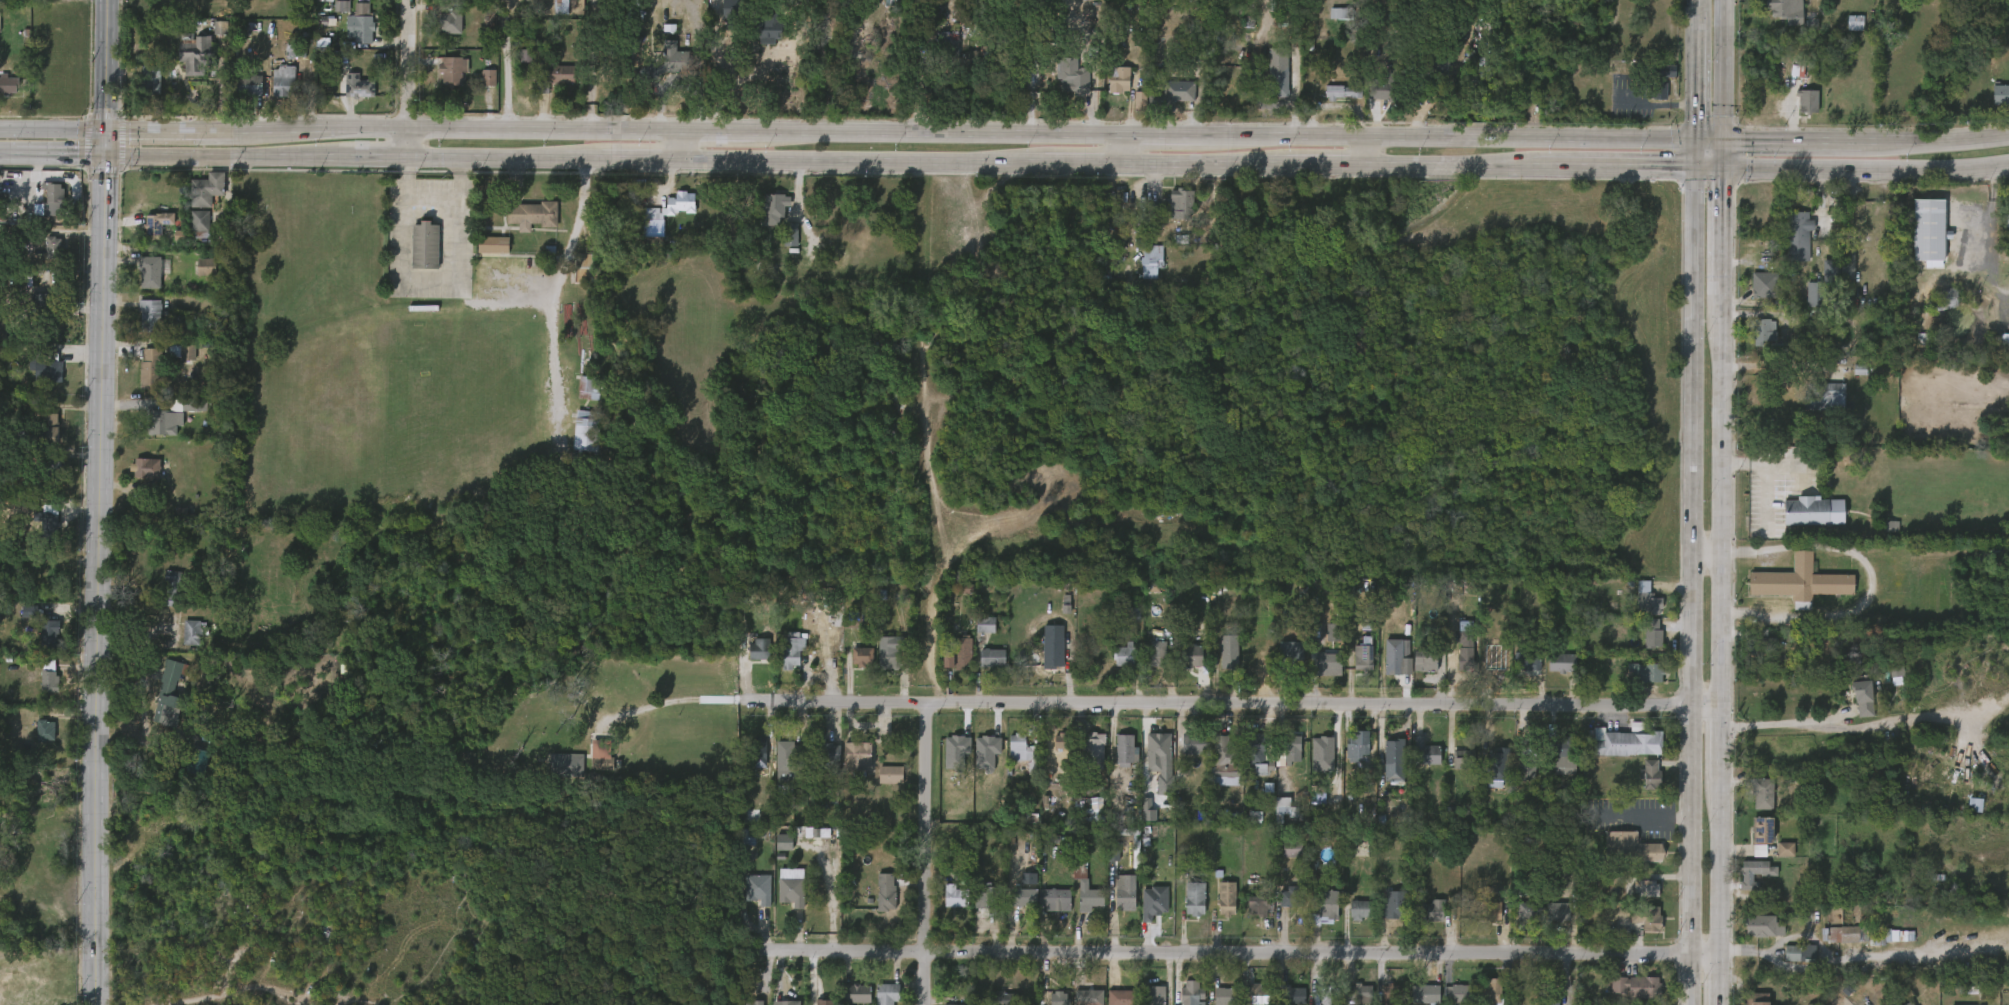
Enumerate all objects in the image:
building: (440, 0)
building: (552, 1)
building: (352, 3)
building: (197, 4)
road: (1696, 6)
building: (1785, 10)
building: (331, 19)
building: (757, 19)
building: (720, 20)
building: (359, 21)
building: (1774, 21)
building: (450, 22)
building: (1327, 26)
building: (1843, 35)
building: (439, 36)
building: (350, 37)
building: (759, 43)
building: (951, 49)
building: (937, 51)
building: (194, 55)
building: (676, 59)
building: (983, 59)
building: (1434, 61)
building: (281, 63)
road: (103, 65)
building: (451, 69)
building: (962, 69)
road: (1729, 71)
building: (664, 74)
building: (555, 75)
road: (1698, 77)
building: (149, 79)
road: (406, 79)
building: (1116, 80)
building: (1275, 81)
building: (1659, 81)
building: (1075, 82)
building: (267, 83)
building: (442, 83)
building: (9, 86)
building: (1382, 86)
building: (357, 87)
building: (477, 90)
building: (1342, 91)
building: (1063, 92)
building: (1108, 92)
building: (140, 93)
building: (1169, 97)
building: (1999, 97)
building: (3, 98)
building: (239, 98)
building: (348, 99)
building: (1806, 101)
building: (1371, 102)
building: (1647, 103)
building: (1332, 105)
building: (1992, 108)
building: (1128, 113)
building: (1796, 114)
road: (51, 129)
traffic signals: (102, 130)
road: (166, 130)
road: (453, 130)
road: (710, 132)
road: (933, 132)
road: (1157, 135)
road: (1446, 138)
traffic signals: (1700, 143)
road: (1714, 143)
traffic signals: (1729, 143)
road: (1800, 144)
road: (102, 145)
road: (1940, 146)
road: (677, 151)
road: (1122, 154)
road: (1362, 156)
road: (51, 159)
road: (222, 159)
road: (373, 159)
traffic signals: (102, 160)
road: (1699, 160)
road: (1729, 160)
road: (495, 162)
road: (632, 168)
road: (855, 171)
road: (1077, 173)
road: (1197, 174)
road: (1317, 175)
road: (1441, 175)
road: (1610, 177)
traffic signals: (1699, 178)
road: (1714, 178)
traffic signals: (1729, 178)
road: (1869, 178)
building: (208, 188)
building: (51, 193)
road: (429, 199)
building: (196, 202)
building: (680, 202)
building: (1176, 203)
building: (773, 206)
building: (41, 213)
building: (535, 214)
building: (1167, 217)
building: (764, 220)
building: (2007, 221)
building: (158, 222)
building: (201, 223)
building: (521, 228)
building: (1930, 230)
building: (651, 233)
building: (147, 235)
building: (1795, 235)
building: (190, 237)
road: (1728, 237)
building: (1917, 244)
building: (423, 245)
building: (51, 247)
building: (780, 247)
building: (482, 257)
building: (414, 258)
building: (1154, 260)
building: (42, 261)
building: (208, 266)
building: (766, 267)
building: (153, 270)
building: (1140, 274)
building: (196, 279)
road: (429, 279)
building: (578, 279)
building: (141, 284)
building: (1763, 284)
building: (1814, 294)
building: (1752, 297)
building: (1946, 298)
road: (554, 301)
building: (41, 304)
building: (1936, 310)
building: (151, 314)
building: (139, 324)
building: (1759, 328)
building: (2005, 340)
building: (1752, 344)
building: (183, 352)
building: (1999, 352)
building: (177, 365)
building: (46, 366)
building: (152, 368)
building: (140, 380)
building: (37, 384)
building: (586, 387)
building: (1823, 396)
building: (578, 400)
building: (187, 404)
building: (1813, 410)
building: (183, 418)
building: (163, 422)
building: (47, 428)
building: (159, 435)
building: (586, 435)
building: (40, 440)
building: (52, 465)
building: (147, 467)
building: (135, 481)
road: (1724, 504)
building: (1804, 511)
building: (50, 521)
building: (40, 530)
building: (1879, 539)
road: (1707, 552)
building: (50, 574)
road: (96, 582)
building: (1798, 582)
building: (175, 589)
road: (1689, 591)
building: (1788, 595)
building: (1644, 599)
building: (160, 601)
building: (1635, 612)
building: (18, 624)
building: (193, 632)
building: (1653, 632)
building: (49, 634)
building: (974, 637)
building: (1760, 643)
building: (38, 645)
building: (181, 645)
building: (1641, 646)
building: (793, 648)
building: (758, 649)
building: (889, 650)
building: (1229, 651)
building: (963, 652)
building: (1055, 652)
building: (1155, 653)
building: (1124, 654)
building: (1290, 654)
building: (1190, 655)
building: (1398, 655)
building: (862, 656)
building: (1465, 656)
building: (991, 657)
building: (1363, 657)
building: (747, 659)
building: (782, 661)
building: (1425, 661)
building: (1525, 661)
building: (1328, 663)
building: (1454, 663)
building: (1561, 663)
building: (1217, 664)
building: (1279, 664)
building: (879, 665)
building: (1042, 665)
building: (1147, 666)
building: (1384, 667)
building: (1112, 668)
building: (1183, 668)
building: (851, 669)
building: (1352, 669)
building: (981, 670)
building: (1515, 673)
building: (1639, 673)
building: (1414, 674)
building: (1550, 675)
building: (50, 677)
building: (1317, 677)
building: (1635, 685)
building: (1885, 687)
building: (39, 689)
building: (167, 696)
building: (1865, 697)
road: (1193, 704)
building: (1851, 711)
road: (1806, 725)
building: (45, 731)
building: (34, 743)
building: (1193, 743)
building: (1356, 743)
building: (1625, 743)
building: (1158, 744)
building: (1091, 748)
building: (1290, 748)
building: (1024, 749)
building: (1125, 750)
building: (1527, 750)
building: (754, 751)
building: (1394, 751)
road: (1721, 751)
building: (825, 752)
building: (1424, 752)
building: (1562, 752)
building: (1050, 753)
building: (1226, 753)
building: (601, 754)
building: (1258, 754)
building: (1616, 754)
building: (857, 757)
building: (789, 758)
building: (1345, 758)
building: (1186, 759)
building: (1462, 759)
building: (1083, 761)
building: (1146, 762)
building: (1281, 762)
building: (1115, 763)
building: (1011, 764)
building: (749, 765)
building: (819, 765)
building: (1414, 765)
building: (565, 766)
building: (1311, 766)
building: (590, 767)
building: (1245, 767)
building: (846, 768)
building: (1496, 768)
building: (1551, 769)
building: (777, 770)
building: (1213, 772)
building: (1383, 772)
building: (1452, 772)
building: (1650, 773)
building: (889, 774)
building: (556, 777)
building: (1486, 781)
building: (1515, 782)
building: (879, 787)
building: (1639, 787)
building: (1763, 792)
building: (953, 795)
building: (1751, 806)
building: (1963, 817)
building: (1275, 821)
building: (1136, 822)
building: (1764, 829)
building: (1750, 842)
building: (1627, 848)
building: (773, 854)
road: (926, 854)
building: (1618, 859)
building: (1773, 861)
building: (1281, 862)
road: (1720, 872)
building: (1756, 873)
building: (1743, 885)
building: (1645, 888)
building: (757, 889)
building: (792, 890)
building: (886, 891)
building: (1128, 892)
building: (985, 894)
building: (954, 897)
building: (1290, 897)
building: (1023, 898)
building: (1090, 898)
building: (780, 899)
building: (1056, 899)
building: (1191, 899)
building: (1224, 899)
building: (1634, 900)
building: (748, 901)
building: (1151, 903)
building: (875, 904)
building: (1258, 904)
building: (1320, 907)
building: (974, 908)
building: (1277, 908)
building: (944, 909)
building: (1114, 909)
building: (1390, 909)
building: (1017, 910)
building: (1215, 910)
building: (1357, 910)
building: (1427, 911)
building: (1042, 912)
building: (1079, 912)
building: (1183, 912)
building: (1527, 912)
building: (1556, 912)
building: (1143, 914)
building: (1244, 914)
building: (1647, 918)
building: (1349, 922)
building: (1422, 922)
building: (1482, 923)
building: (1518, 924)
building: (1546, 924)
building: (1763, 926)
building: (1639, 931)
building: (1847, 934)
road: (1801, 935)
building: (1752, 939)
building: (1836, 946)
building: (1799, 953)
road: (1245, 954)
building: (1788, 966)
road: (1799, 967)
road: (1719, 978)
building: (1804, 983)
building: (1636, 986)
building: (1190, 992)
building: (855, 993)
building: (886, 993)
building: (1458, 993)
building: (1256, 994)
building: (1291, 994)
building: (1357, 994)
building: (1426, 994)
building: (1155, 995)
building: (1325, 995)
building: (1390, 995)
building: (1487, 995)
building: (1222, 996)
building: (1088, 997)
building: (1122, 997)
building: (1624, 997)
building: (1003, 998)
building: (1757, 998)
building: (1180, 999)
building: (1544, 999)
building: (846, 1001)
building: (1145, 1001)
building: (1415, 1001)
building: (1449, 1001)
building: (752, 1002)
building: (824, 1002)
building: (791, 1003)
building: (949, 1004)
building: (1047, 1004)
building: (1814, 1004)

